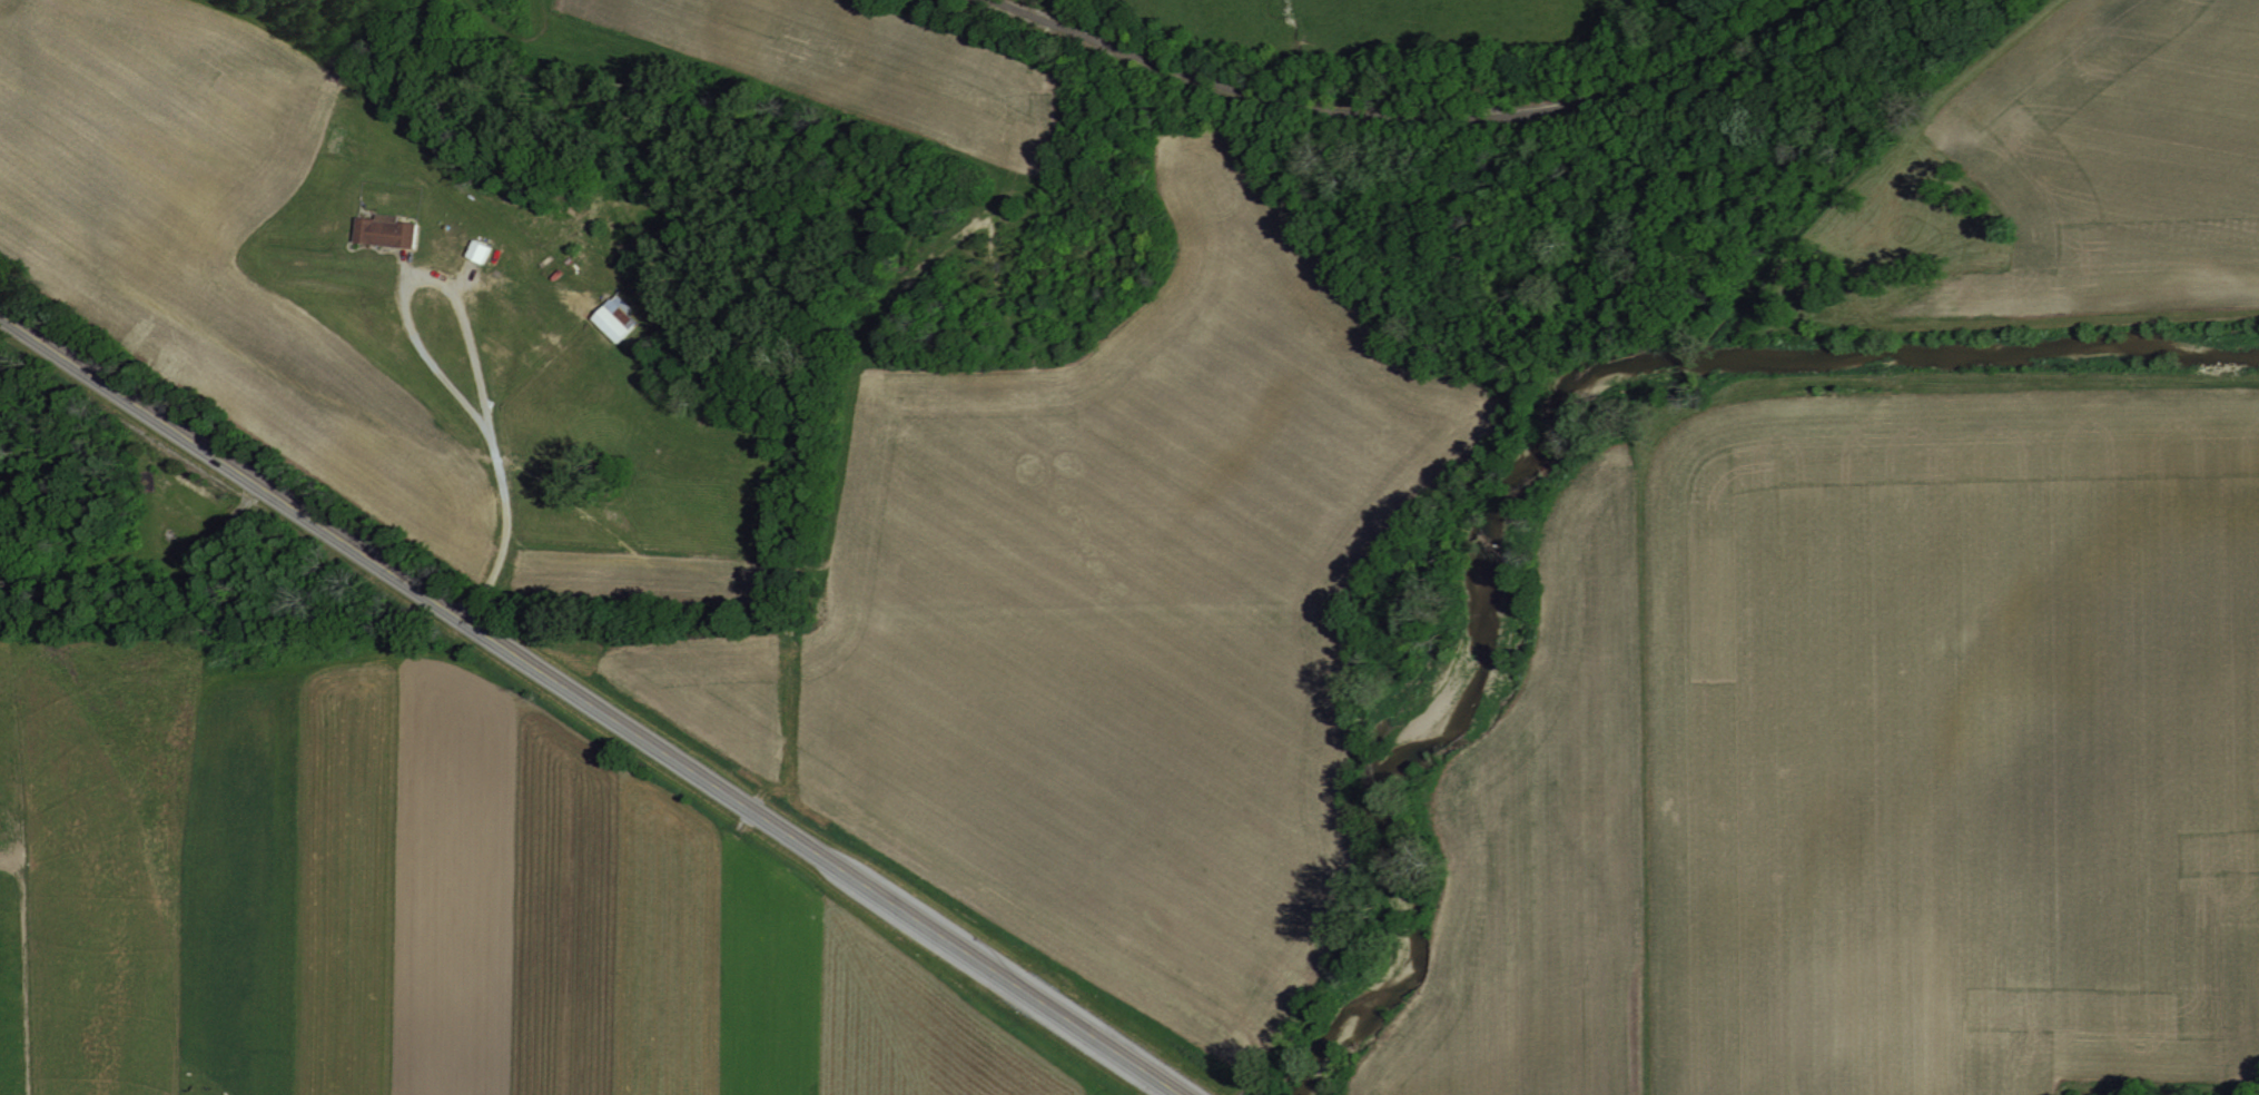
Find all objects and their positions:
road: (1402, 118)
building: (391, 231)
building: (484, 251)
building: (621, 318)
road: (470, 347)
road: (590, 704)

